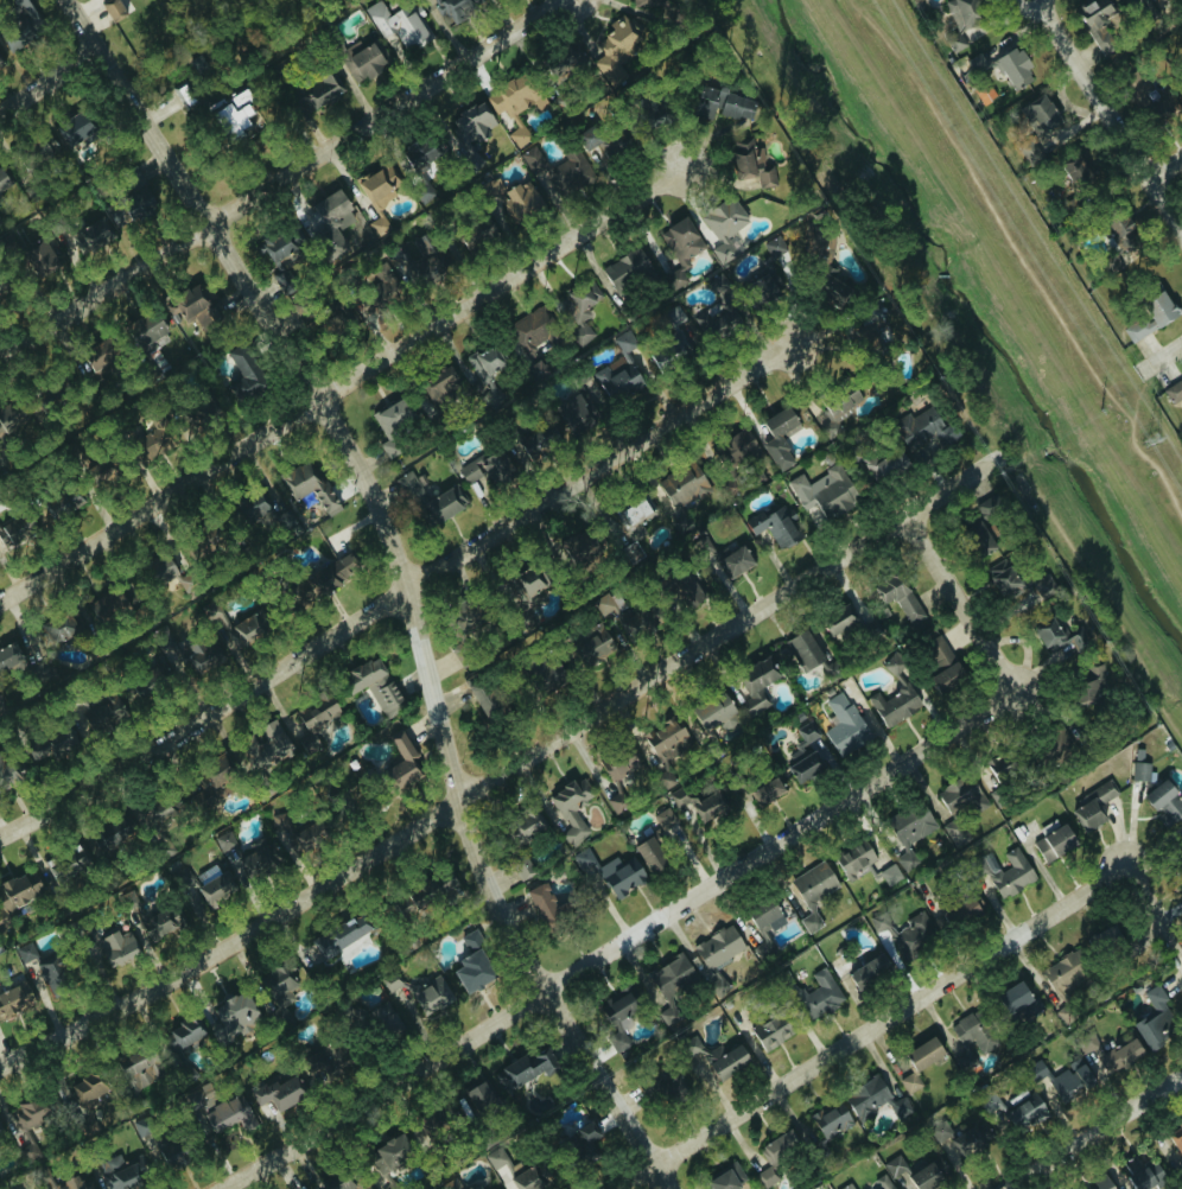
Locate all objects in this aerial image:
building: (1139, 0)
building: (644, 1)
building: (112, 9)
building: (452, 9)
building: (962, 18)
building: (1098, 24)
building: (398, 26)
building: (20, 33)
building: (615, 50)
building: (1, 61)
building: (361, 62)
building: (566, 64)
building: (1013, 69)
road: (50, 81)
building: (1137, 93)
building: (318, 94)
building: (984, 94)
building: (182, 95)
building: (515, 98)
building: (725, 104)
building: (231, 115)
road: (1110, 115)
building: (1038, 116)
building: (72, 129)
building: (471, 131)
building: (519, 135)
building: (603, 142)
building: (39, 151)
building: (1029, 153)
building: (754, 164)
building: (418, 165)
building: (559, 169)
road: (1165, 169)
building: (1076, 172)
building: (132, 179)
road: (277, 179)
building: (2, 183)
building: (377, 184)
building: (521, 201)
building: (330, 206)
building: (131, 208)
building: (724, 227)
building: (478, 234)
building: (91, 236)
building: (1118, 243)
building: (774, 247)
building: (680, 249)
building: (278, 257)
building: (39, 259)
building: (424, 259)
road: (1018, 261)
building: (625, 269)
building: (717, 284)
building: (832, 290)
building: (380, 291)
building: (195, 307)
building: (577, 312)
building: (1151, 317)
building: (716, 325)
building: (530, 330)
building: (146, 335)
building: (673, 341)
building: (624, 342)
road: (1162, 356)
building: (93, 358)
building: (484, 362)
building: (535, 371)
building: (241, 375)
building: (617, 382)
road: (341, 384)
building: (1174, 392)
building: (490, 396)
building: (44, 398)
building: (839, 401)
building: (202, 409)
building: (574, 413)
building: (390, 415)
building: (923, 428)
building: (779, 437)
building: (536, 438)
power tower: (1152, 439)
building: (151, 444)
building: (733, 449)
building: (388, 450)
building: (885, 464)
building: (485, 466)
building: (796, 484)
building: (309, 485)
building: (684, 485)
building: (411, 488)
building: (833, 492)
building: (256, 502)
building: (62, 503)
building: (444, 503)
building: (634, 511)
building: (771, 528)
building: (14, 529)
building: (197, 543)
building: (703, 546)
building: (578, 547)
building: (631, 553)
building: (733, 560)
building: (332, 574)
road: (403, 578)
building: (1003, 578)
building: (526, 583)
building: (686, 589)
road: (399, 594)
building: (898, 597)
building: (104, 602)
road: (961, 604)
building: (464, 613)
building: (627, 616)
building: (521, 618)
building: (838, 619)
building: (61, 627)
building: (249, 627)
building: (1057, 636)
building: (591, 646)
building: (190, 653)
building: (8, 655)
building: (941, 663)
building: (19, 668)
building: (548, 675)
building: (144, 681)
building: (1088, 682)
building: (755, 683)
building: (373, 685)
building: (483, 693)
building: (894, 705)
building: (712, 711)
building: (102, 712)
building: (844, 725)
building: (667, 739)
building: (50, 743)
building: (263, 745)
building: (401, 762)
building: (618, 764)
building: (1139, 767)
road: (506, 770)
building: (4, 772)
building: (211, 776)
building: (765, 790)
building: (958, 794)
building: (1164, 802)
building: (616, 803)
building: (700, 805)
building: (1094, 806)
building: (570, 807)
building: (663, 818)
building: (528, 825)
building: (911, 826)
building: (294, 833)
building: (955, 833)
building: (106, 834)
building: (1054, 843)
building: (649, 854)
building: (583, 858)
building: (854, 858)
building: (259, 859)
building: (905, 860)
building: (523, 869)
building: (182, 875)
building: (619, 875)
building: (889, 875)
building: (1011, 875)
building: (211, 884)
building: (425, 891)
building: (813, 891)
building: (545, 908)
road: (1154, 910)
building: (959, 911)
building: (148, 920)
building: (762, 926)
building: (907, 933)
building: (339, 935)
building: (471, 940)
building: (115, 947)
road: (621, 947)
building: (718, 947)
building: (38, 969)
building: (472, 971)
building: (869, 971)
building: (1062, 981)
building: (669, 985)
building: (279, 992)
building: (820, 994)
building: (431, 996)
building: (14, 999)
building: (1018, 1000)
building: (617, 1005)
building: (234, 1015)
building: (1154, 1019)
building: (382, 1020)
road: (878, 1028)
building: (771, 1031)
building: (186, 1032)
building: (972, 1039)
building: (1086, 1041)
building: (923, 1054)
building: (1120, 1055)
building: (323, 1061)
building: (717, 1062)
building: (138, 1069)
building: (525, 1069)
building: (1061, 1081)
building: (909, 1082)
building: (665, 1086)
building: (89, 1091)
building: (278, 1091)
building: (482, 1096)
building: (872, 1099)
building: (1016, 1109)
building: (30, 1114)
building: (228, 1114)
building: (831, 1119)
building: (430, 1120)
building: (1, 1131)
road: (1093, 1132)
building: (945, 1134)
building: (970, 1139)
building: (586, 1142)
building: (167, 1152)
building: (776, 1156)
building: (894, 1166)
building: (533, 1169)
building: (122, 1172)
building: (1143, 1174)
building: (929, 1175)
building: (726, 1178)
building: (332, 1182)
building: (1101, 1183)
building: (71, 1184)
building: (452, 1184)
building: (474, 1187)
building: (846, 1187)
building: (889, 1187)
building: (494, 1188)
building: (1078, 1188)

